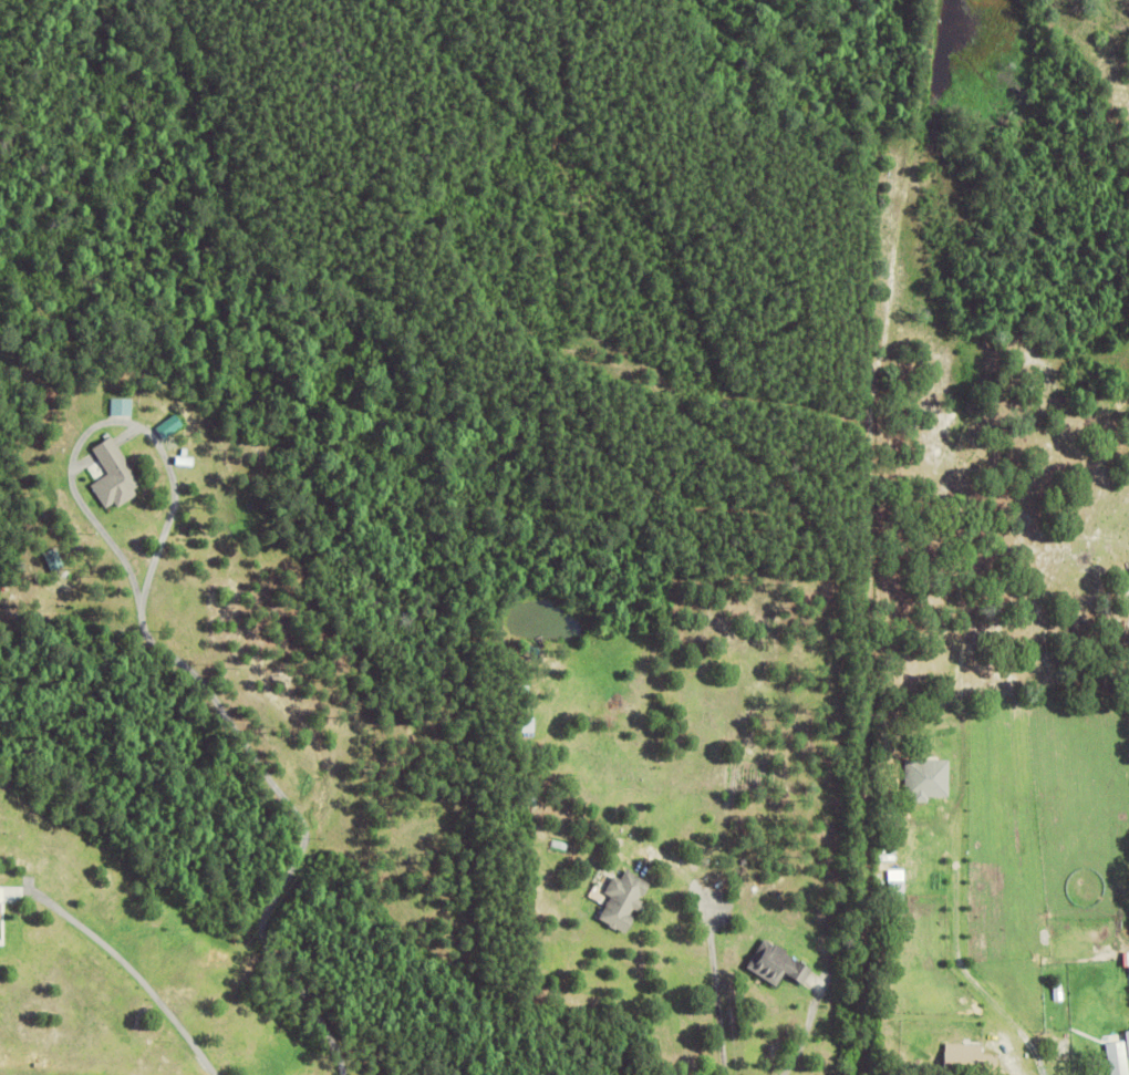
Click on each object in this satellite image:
building: (117, 406)
building: (110, 474)
building: (928, 779)
building: (700, 871)
building: (898, 890)
building: (619, 898)
building: (1123, 958)
building: (773, 963)
road: (136, 975)
road: (716, 985)
building: (1067, 1007)
building: (1128, 1041)
building: (1118, 1058)
building: (970, 1061)

